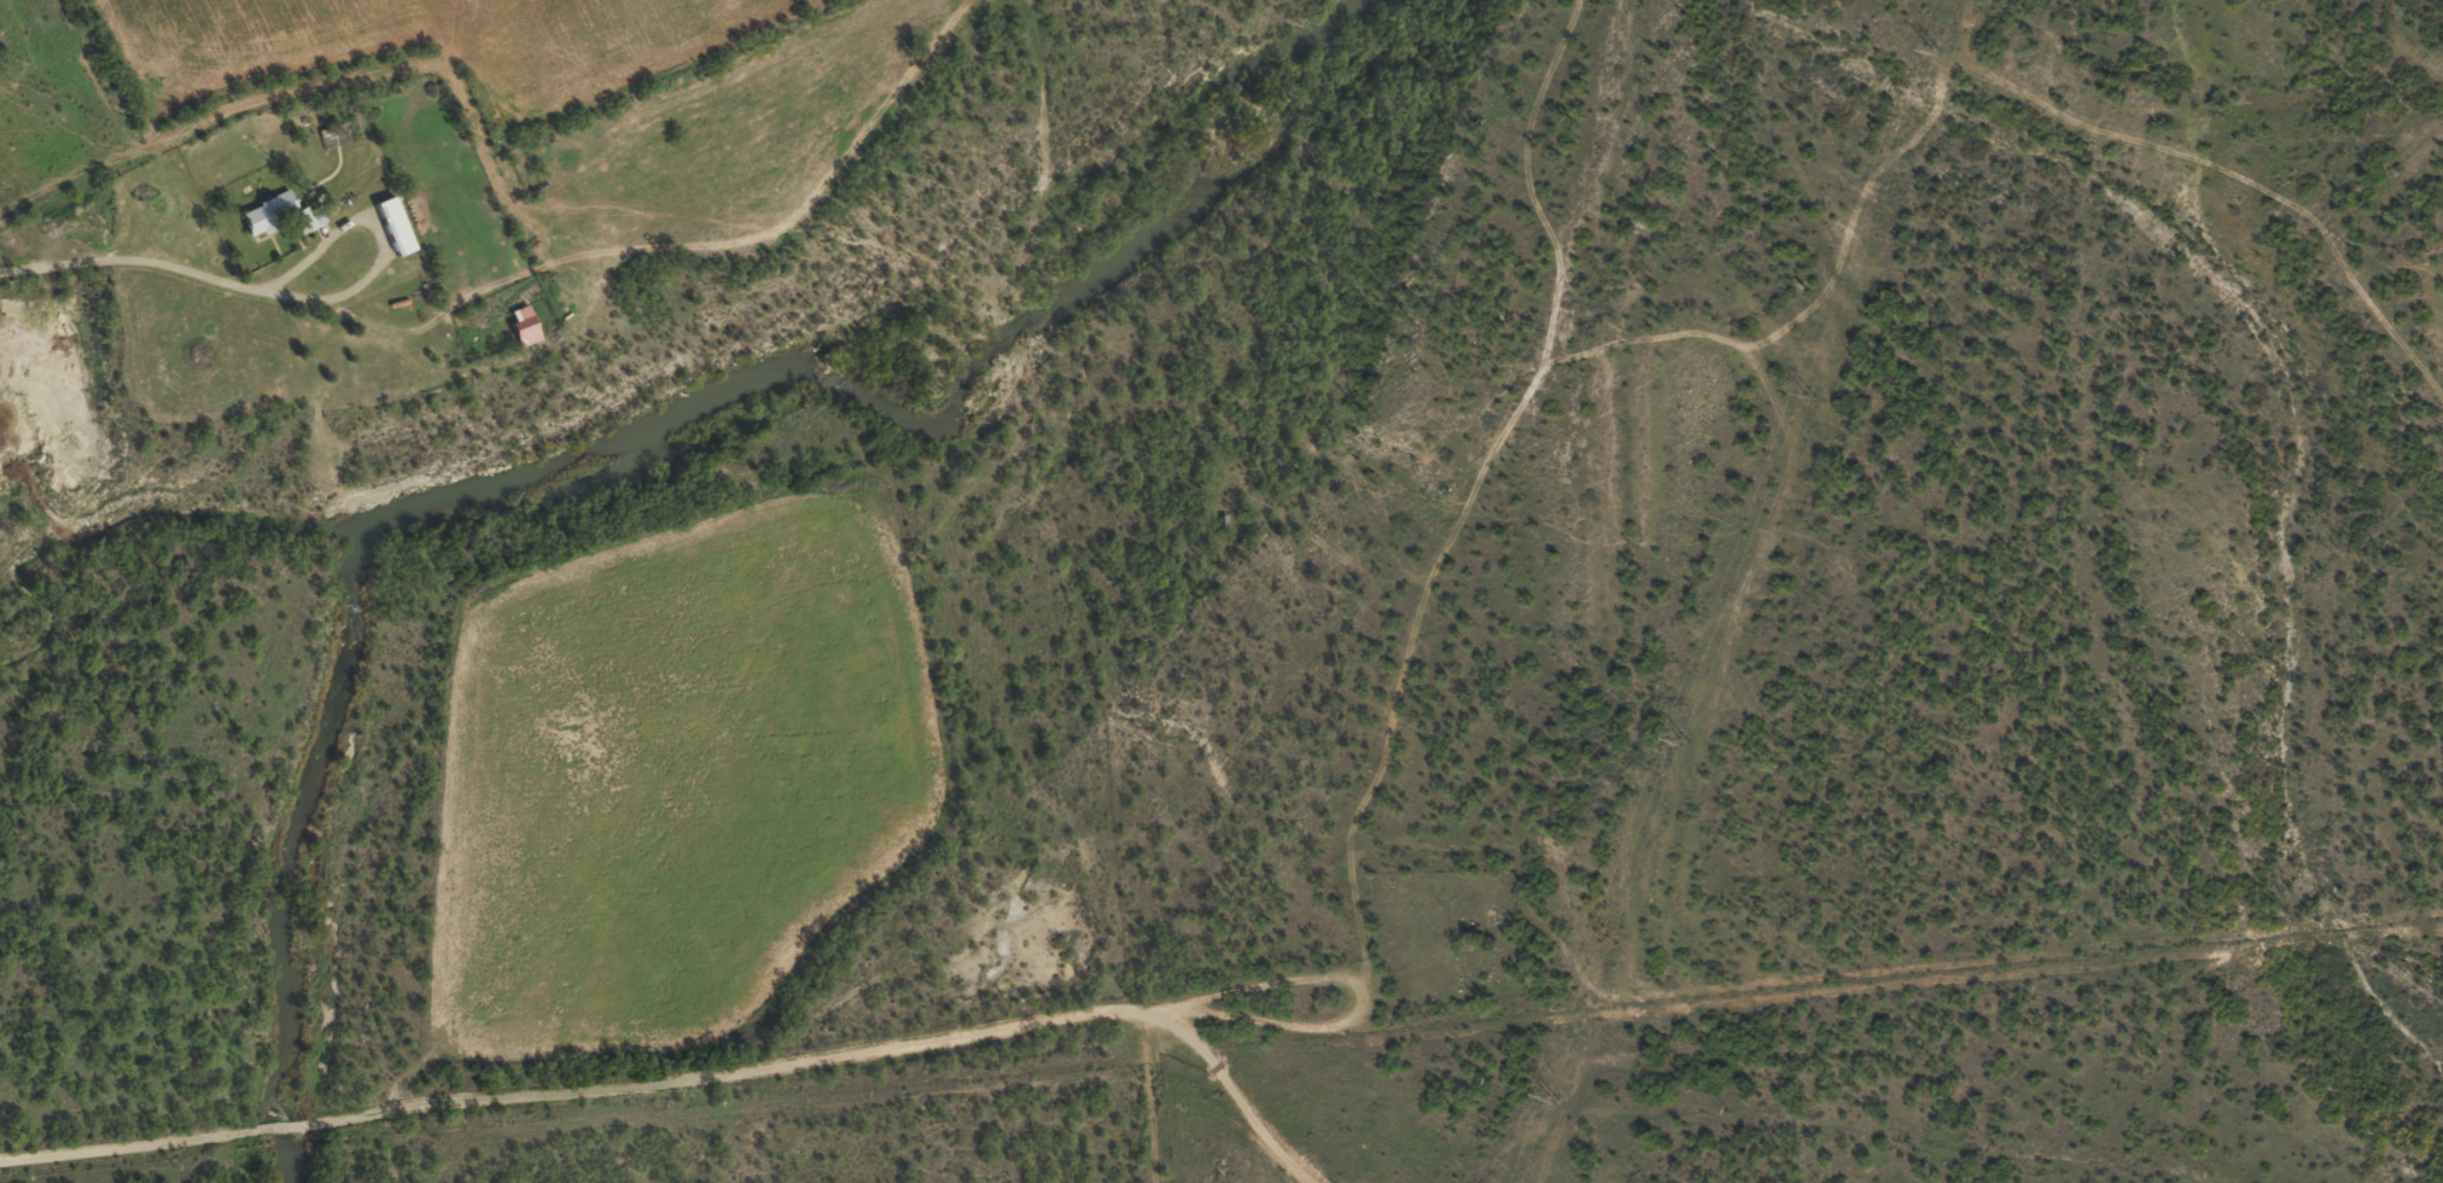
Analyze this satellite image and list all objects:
power tower: (1938, 51)
building: (287, 211)
building: (401, 225)
building: (392, 235)
road: (150, 272)
road: (1544, 307)
building: (527, 324)
building: (521, 336)
power tower: (1812, 395)
power tower: (1684, 740)
park: (1444, 937)
road: (1255, 963)
road: (674, 1079)
power tower: (1553, 1097)
road: (1151, 1141)

